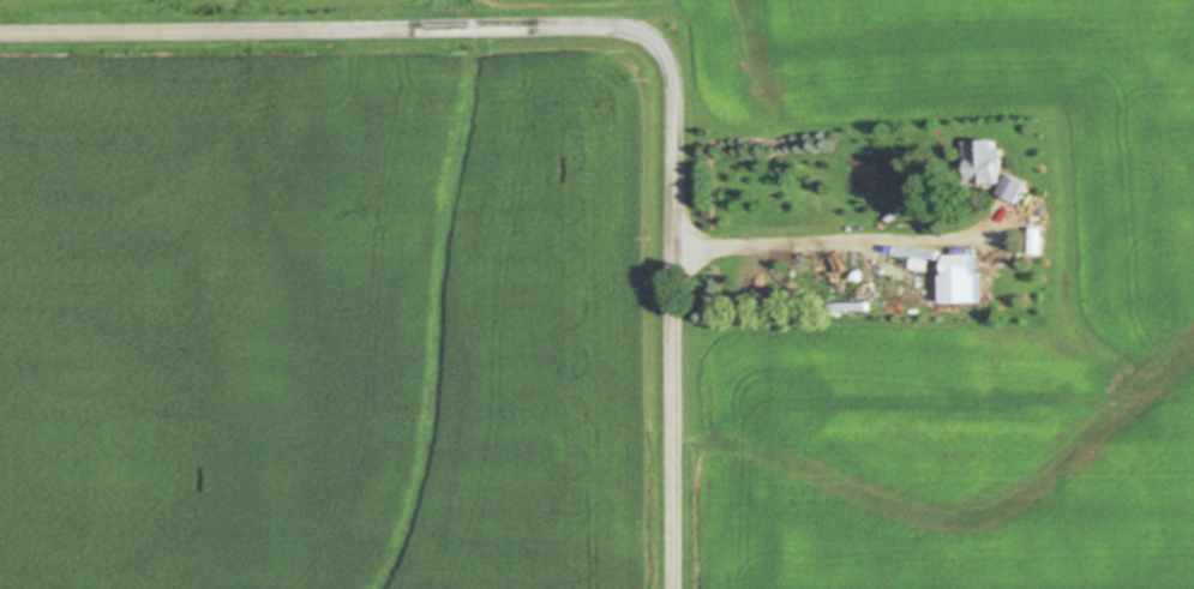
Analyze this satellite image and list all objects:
road: (604, 28)
building: (985, 162)
building: (924, 185)
building: (1015, 188)
road: (822, 241)
building: (966, 280)
building: (853, 307)

